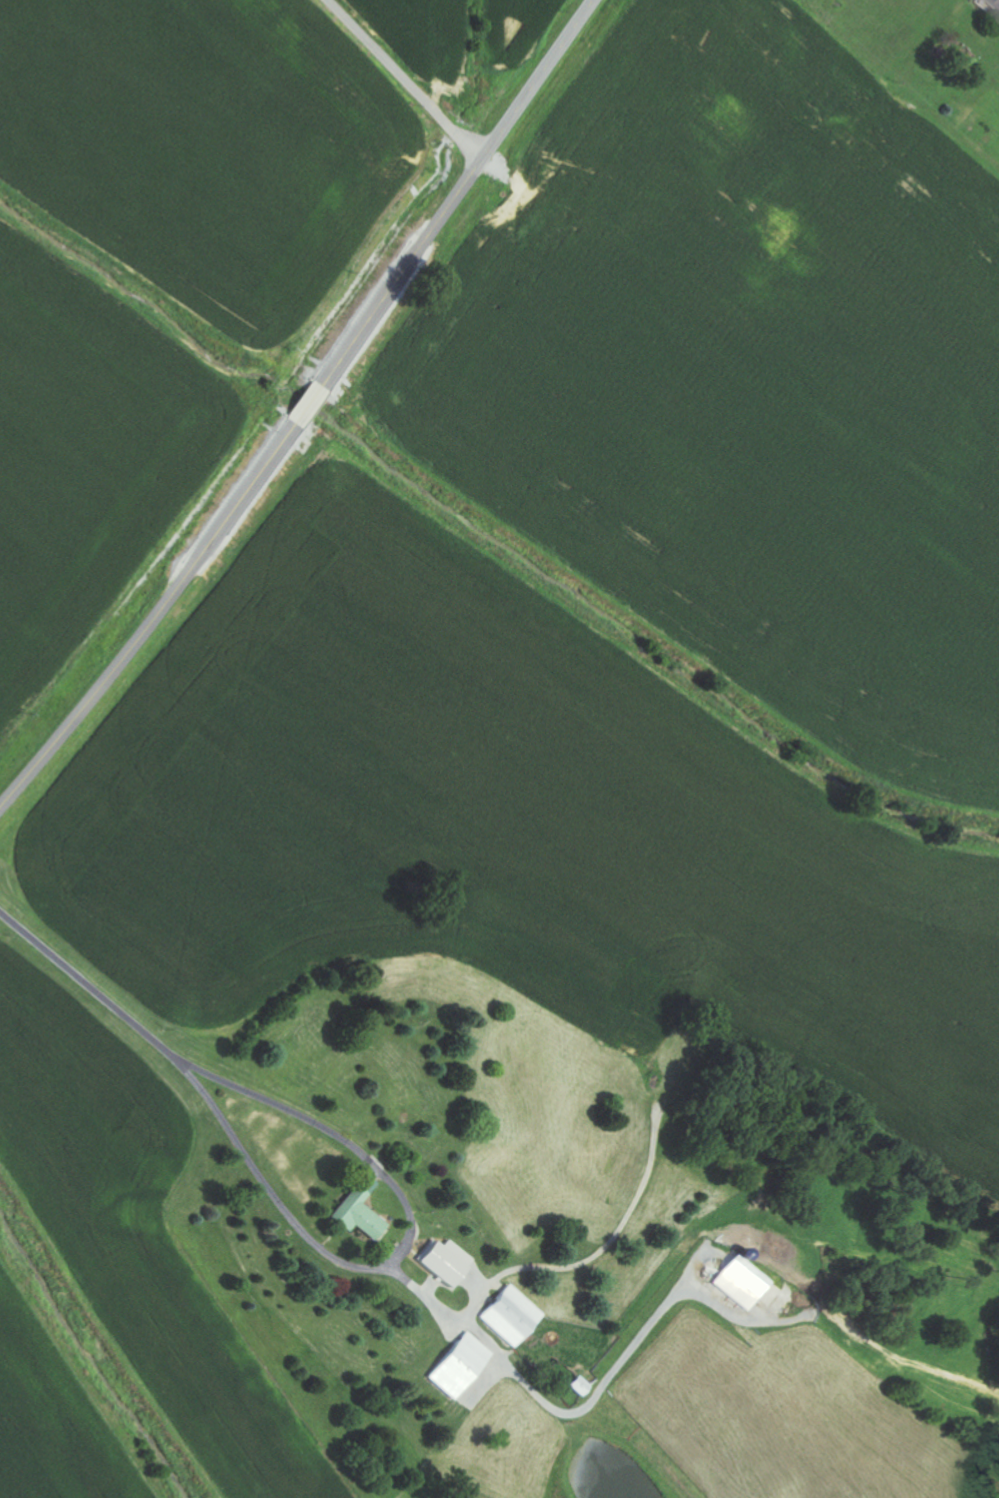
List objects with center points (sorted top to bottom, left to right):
building: (992, 5)
road: (402, 80)
road: (304, 409)
road: (89, 984)
building: (358, 1211)
road: (302, 1230)
building: (443, 1262)
building: (739, 1283)
building: (509, 1316)
building: (458, 1366)

